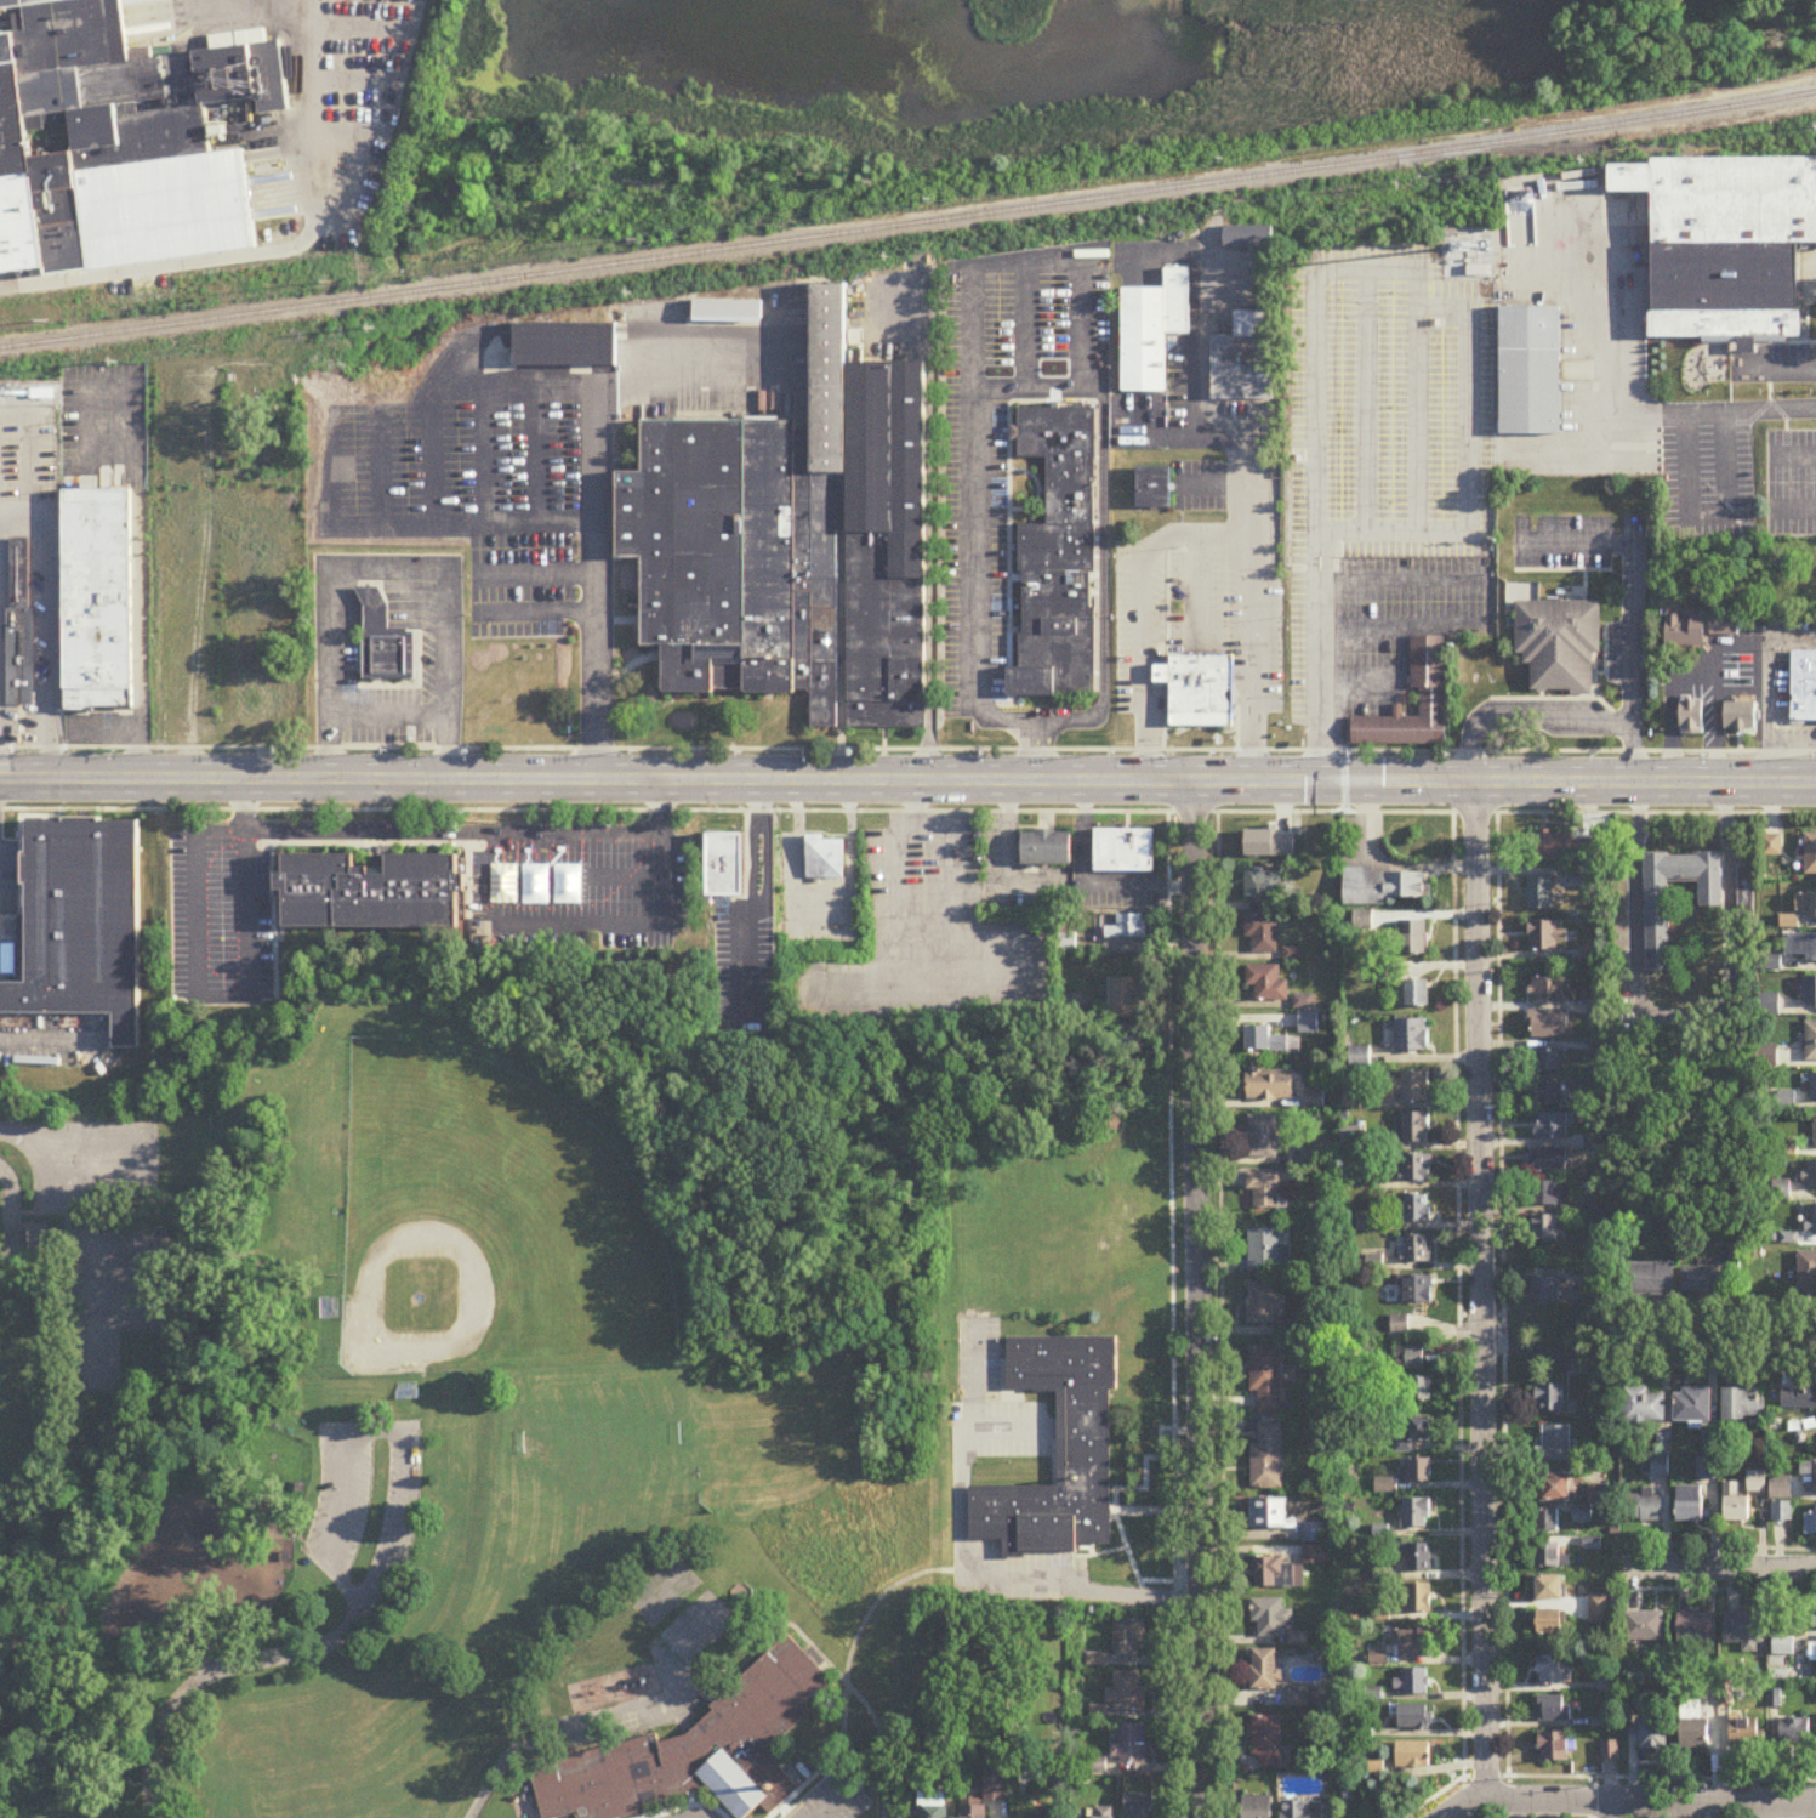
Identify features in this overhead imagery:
building: (116, 137)
railway: (1599, 152)
railway: (909, 225)
building: (1247, 238)
building: (1726, 245)
road: (273, 251)
road: (1003, 261)
building: (1152, 333)
building: (565, 346)
road: (671, 350)
road: (1025, 352)
building: (1245, 360)
road: (1778, 367)
building: (1531, 371)
road: (1419, 374)
road: (1199, 375)
road: (998, 385)
road: (1609, 390)
road: (1362, 400)
road: (1798, 456)
building: (1154, 490)
road: (1798, 511)
road: (593, 515)
road: (1704, 515)
road: (462, 523)
road: (1368, 527)
road: (932, 528)
road: (1201, 534)
building: (792, 542)
building: (1058, 557)
road: (1309, 562)
road: (1325, 562)
road: (385, 580)
road: (1400, 580)
building: (98, 603)
road: (1630, 615)
building: (19, 624)
road: (1400, 626)
road: (47, 629)
building: (1698, 630)
building: (385, 644)
building: (1558, 644)
road: (1695, 666)
road: (1317, 681)
road: (1354, 683)
building: (1804, 689)
building: (1199, 693)
building: (1431, 699)
building: (493, 708)
road: (1759, 712)
road: (1522, 715)
building: (1692, 716)
road: (1713, 717)
building: (1741, 717)
road: (123, 735)
road: (907, 750)
road: (907, 782)
road: (907, 813)
road: (246, 830)
building: (1550, 846)
building: (1047, 848)
building: (1125, 851)
building: (1810, 853)
building: (825, 857)
building: (725, 864)
road: (1636, 870)
road: (1087, 884)
building: (1262, 885)
building: (1382, 886)
road: (1730, 887)
building: (1744, 891)
building: (369, 892)
building: (1538, 893)
road: (763, 894)
building: (1805, 903)
building: (80, 924)
building: (1126, 927)
building: (1262, 934)
building: (1545, 934)
building: (1411, 938)
building: (1658, 939)
road: (950, 945)
building: (1800, 945)
building: (1266, 984)
building: (1548, 990)
building: (1810, 990)
building: (1417, 993)
building: (1123, 998)
building: (1548, 1024)
building: (1411, 1036)
building: (1264, 1041)
building: (1810, 1041)
building: (1545, 1059)
building: (1268, 1085)
building: (1412, 1087)
building: (1814, 1087)
building: (1545, 1093)
building: (1549, 1126)
building: (1413, 1129)
building: (1815, 1132)
road: (24, 1137)
building: (1264, 1138)
building: (1550, 1160)
parking lot: (93, 1168)
building: (1411, 1169)
building: (1810, 1175)
road: (133, 1182)
building: (1265, 1191)
building: (1549, 1194)
building: (1413, 1210)
road: (50, 1215)
park: (486, 1221)
building: (1811, 1222)
road: (8, 1225)
building: (1547, 1228)
building: (41, 1242)
building: (1417, 1250)
building: (1268, 1251)
building: (1806, 1272)
park: (95, 1274)
building: (1650, 1279)
building: (1700, 1280)
park: (141, 1282)
building: (1545, 1289)
building: (1418, 1290)
road: (1480, 1293)
road: (1197, 1299)
building: (1265, 1305)
building: (328, 1308)
road: (1171, 1314)
road: (1220, 1316)
road: (1458, 1316)
road: (1501, 1316)
building: (1399, 1325)
park: (556, 1331)
road: (1720, 1341)
park: (95, 1354)
building: (1408, 1358)
building: (1581, 1365)
building: (1266, 1377)
building: (1413, 1390)
building: (405, 1392)
building: (1549, 1397)
building: (1798, 1397)
building: (1744, 1404)
building: (1691, 1405)
building: (1643, 1407)
building: (1416, 1432)
road: (366, 1436)
park: (597, 1436)
building: (1815, 1438)
building: (1554, 1444)
building: (1055, 1451)
building: (1268, 1459)
park: (74, 1465)
building: (1418, 1470)
building: (1812, 1477)
building: (1556, 1488)
building: (1780, 1488)
building: (1691, 1504)
building: (1736, 1505)
parking lot: (960, 1510)
building: (1644, 1510)
parking lot: (364, 1512)
building: (1782, 1512)
road: (1156, 1513)
building: (1269, 1513)
building: (1416, 1513)
building: (1581, 1515)
building: (1548, 1521)
building: (1810, 1523)
road: (1121, 1530)
building: (1315, 1545)
road: (1123, 1549)
building: (1552, 1553)
building: (1419, 1558)
road: (1721, 1568)
building: (1273, 1573)
road: (1070, 1575)
road: (962, 1583)
building: (1552, 1589)
building: (1417, 1598)
building: (1599, 1610)
building: (1815, 1617)
building: (1270, 1618)
building: (1552, 1623)
building: (1644, 1627)
building: (1696, 1627)
building: (1744, 1631)
building: (1128, 1641)
building: (1416, 1643)
road: (827, 1665)
building: (1264, 1670)
road: (217, 1671)
building: (1554, 1671)
building: (1412, 1683)
road: (844, 1688)
building: (1126, 1693)
building: (1297, 1698)
building: (1554, 1709)
building: (1413, 1718)
building: (1696, 1727)
building: (1747, 1731)
building: (1794, 1732)
building: (1656, 1738)
building: (1266, 1743)
building: (943, 1746)
building: (1129, 1746)
building: (1554, 1748)
building: (694, 1751)
building: (1413, 1755)
road: (1604, 1779)
building: (995, 1784)
road: (838, 1799)
road: (1589, 1799)
parking lot: (827, 1801)
building: (933, 1805)
road: (1630, 1805)
building: (1139, 1807)
building: (1258, 1807)
building: (1303, 1810)
road: (1617, 1811)
road: (688, 1812)
building: (974, 1812)
building: (1049, 1812)
building: (1095, 1814)

